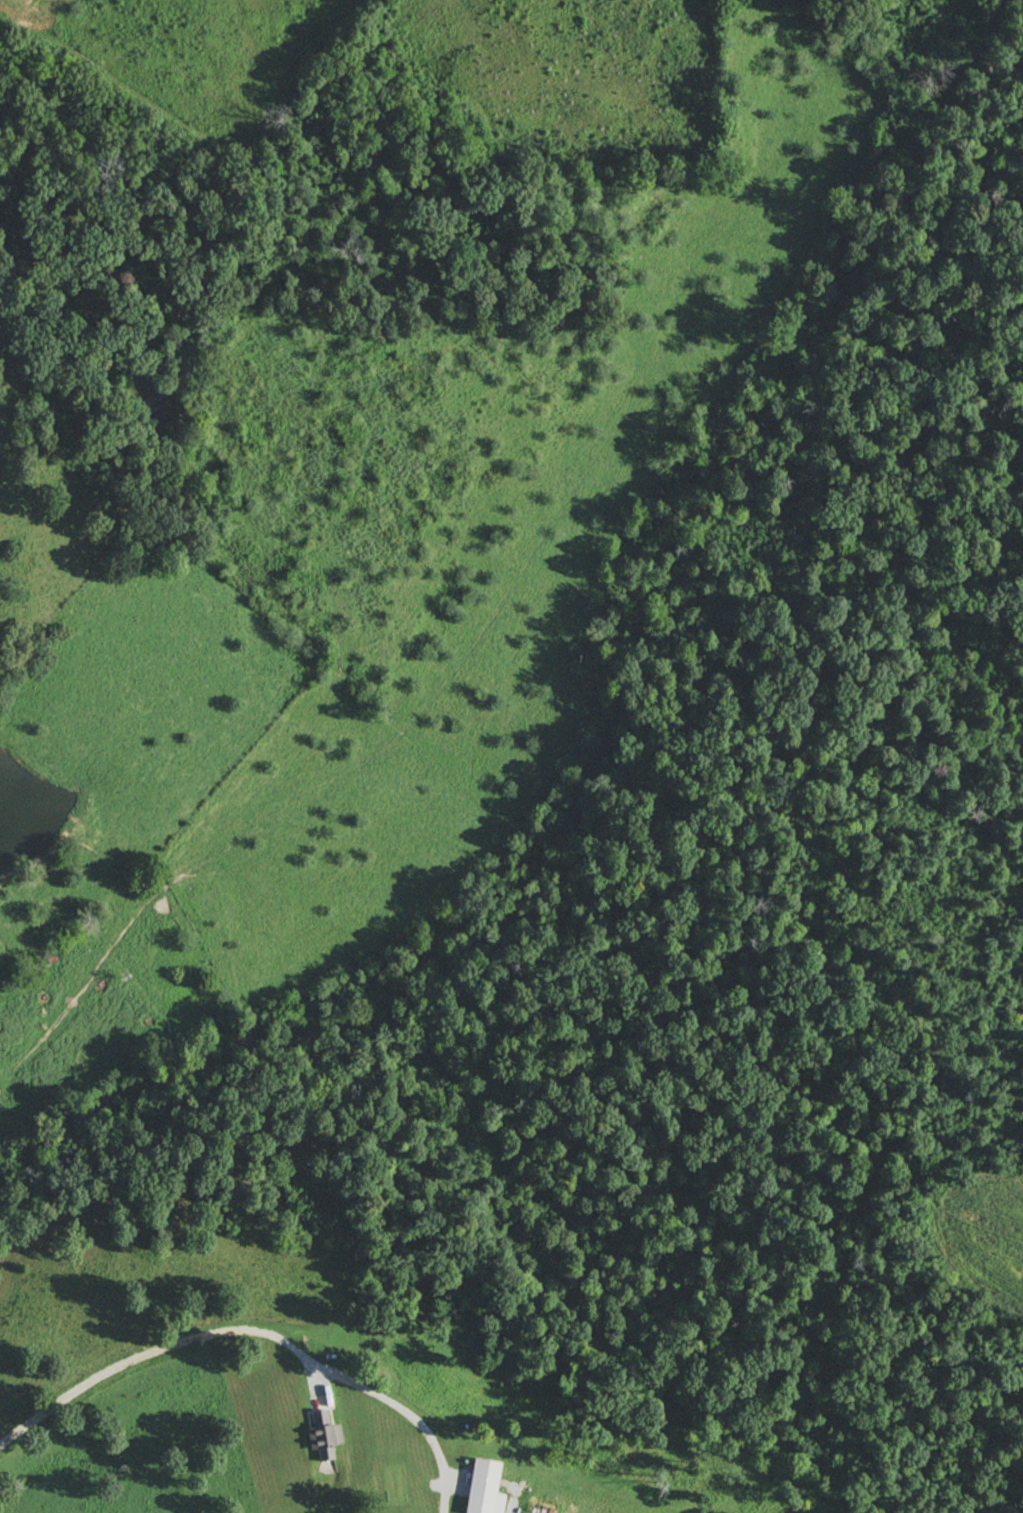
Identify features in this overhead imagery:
building: (56, 954)
road: (169, 1357)
building: (327, 1434)

